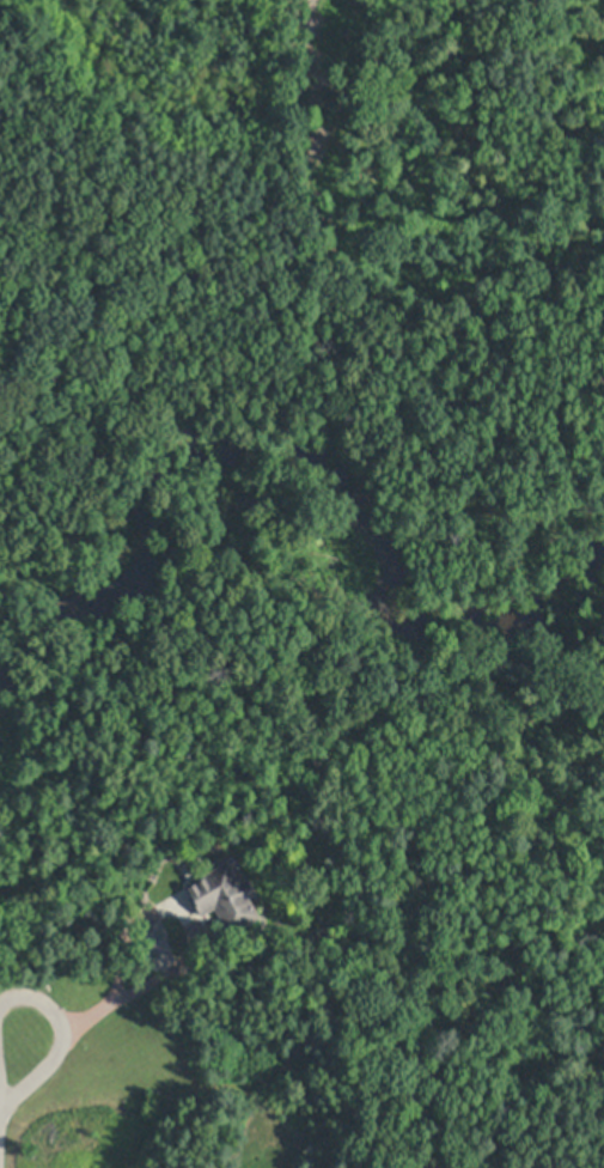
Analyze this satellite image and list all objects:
river: (304, 457)
building: (0, 802)
building: (224, 899)
road: (124, 975)
road: (62, 1041)
road: (0, 1077)
building: (203, 1108)
road: (0, 1115)

